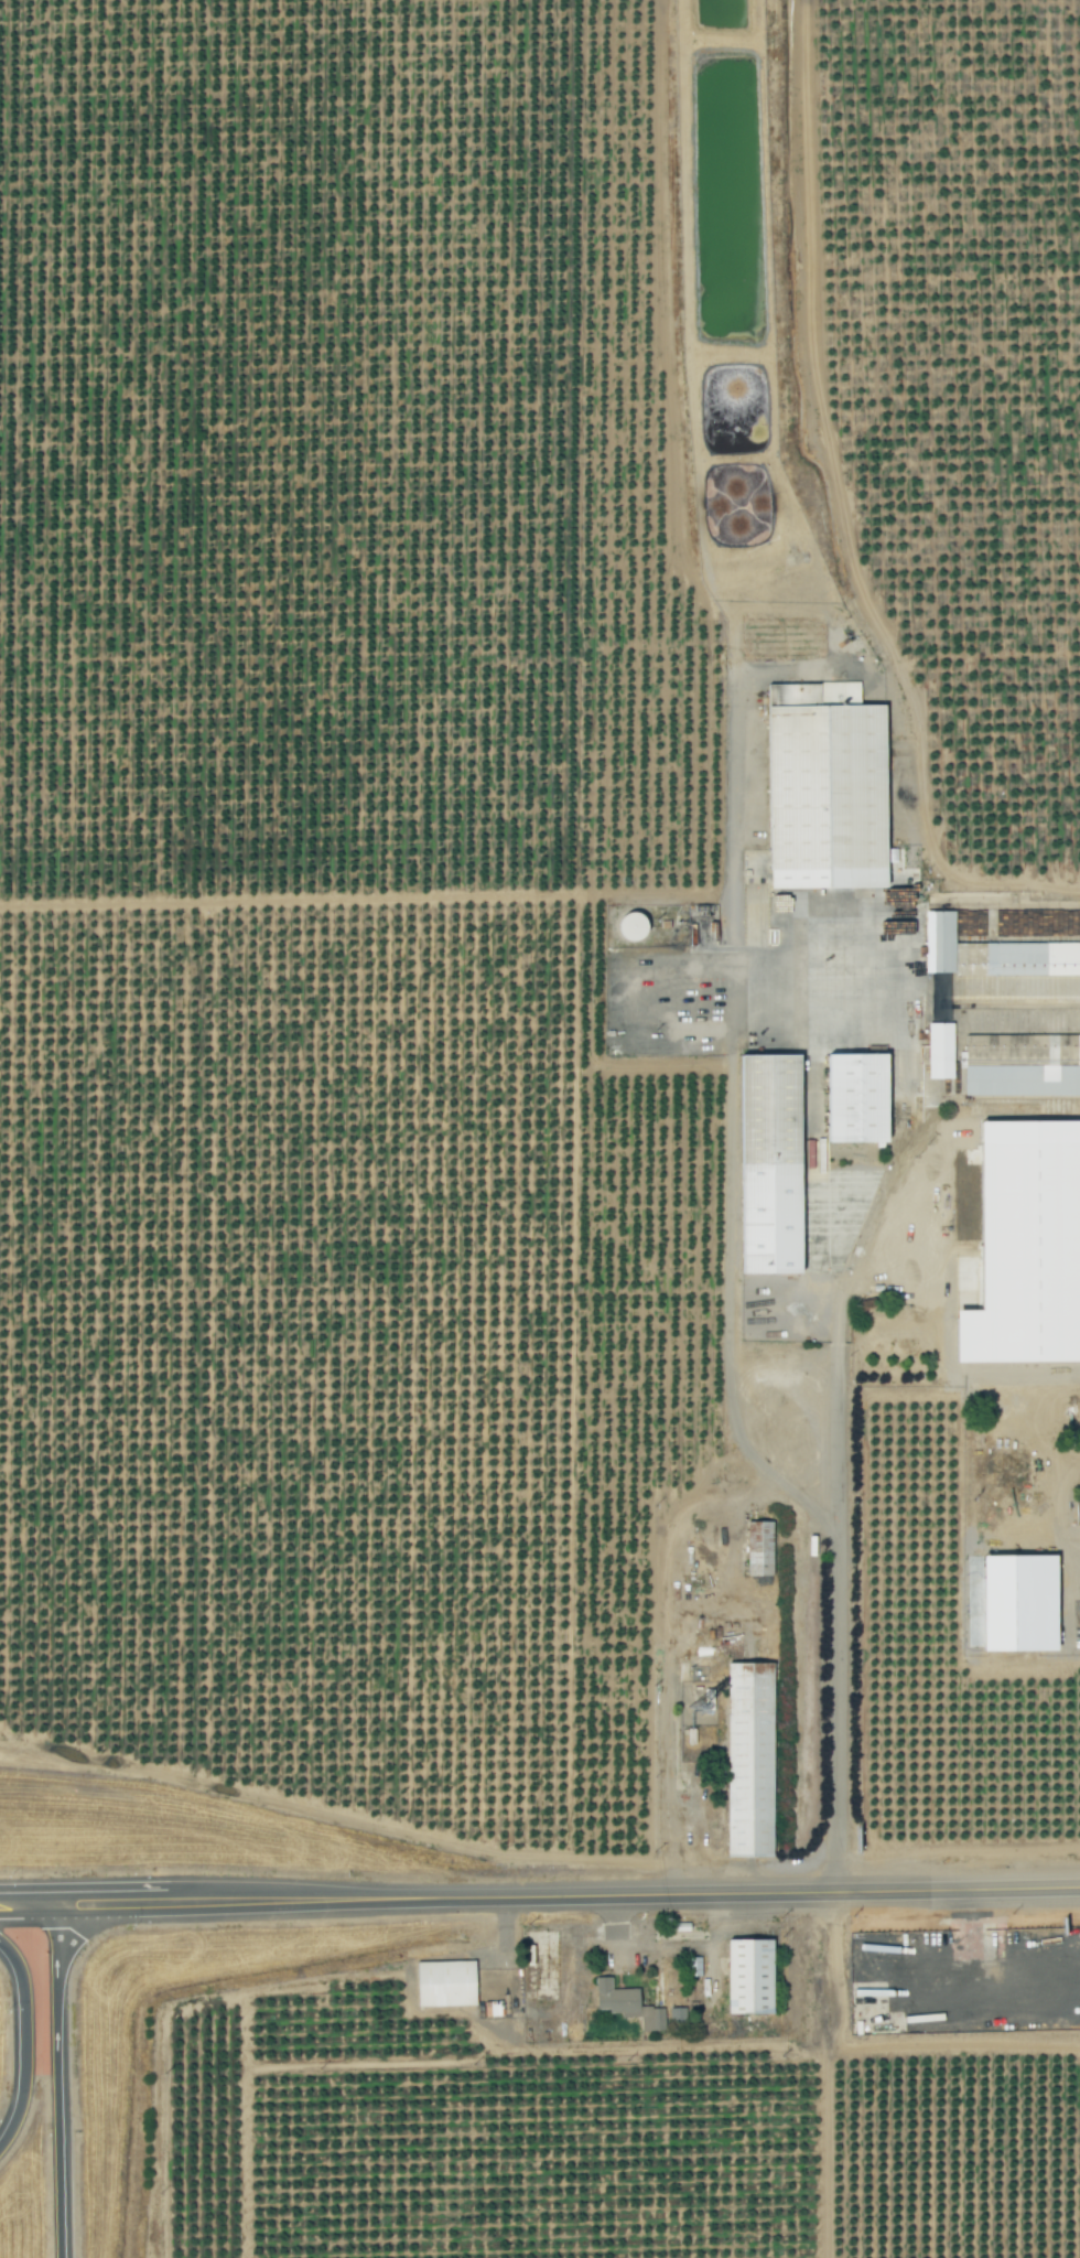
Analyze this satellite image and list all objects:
building: (829, 786)
building: (635, 924)
building: (940, 940)
building: (1017, 958)
road: (862, 968)
building: (941, 1050)
building: (861, 1097)
railway: (836, 1129)
building: (774, 1163)
building: (1028, 1246)
road: (840, 1451)
building: (1078, 1512)
building: (760, 1548)
building: (1023, 1603)
building: (752, 1760)
road: (624, 1884)
road: (111, 1899)
road: (28, 1900)
building: (752, 1977)
building: (446, 1983)
building: (628, 2004)
building: (678, 2015)
road: (23, 2043)
road: (57, 2078)

